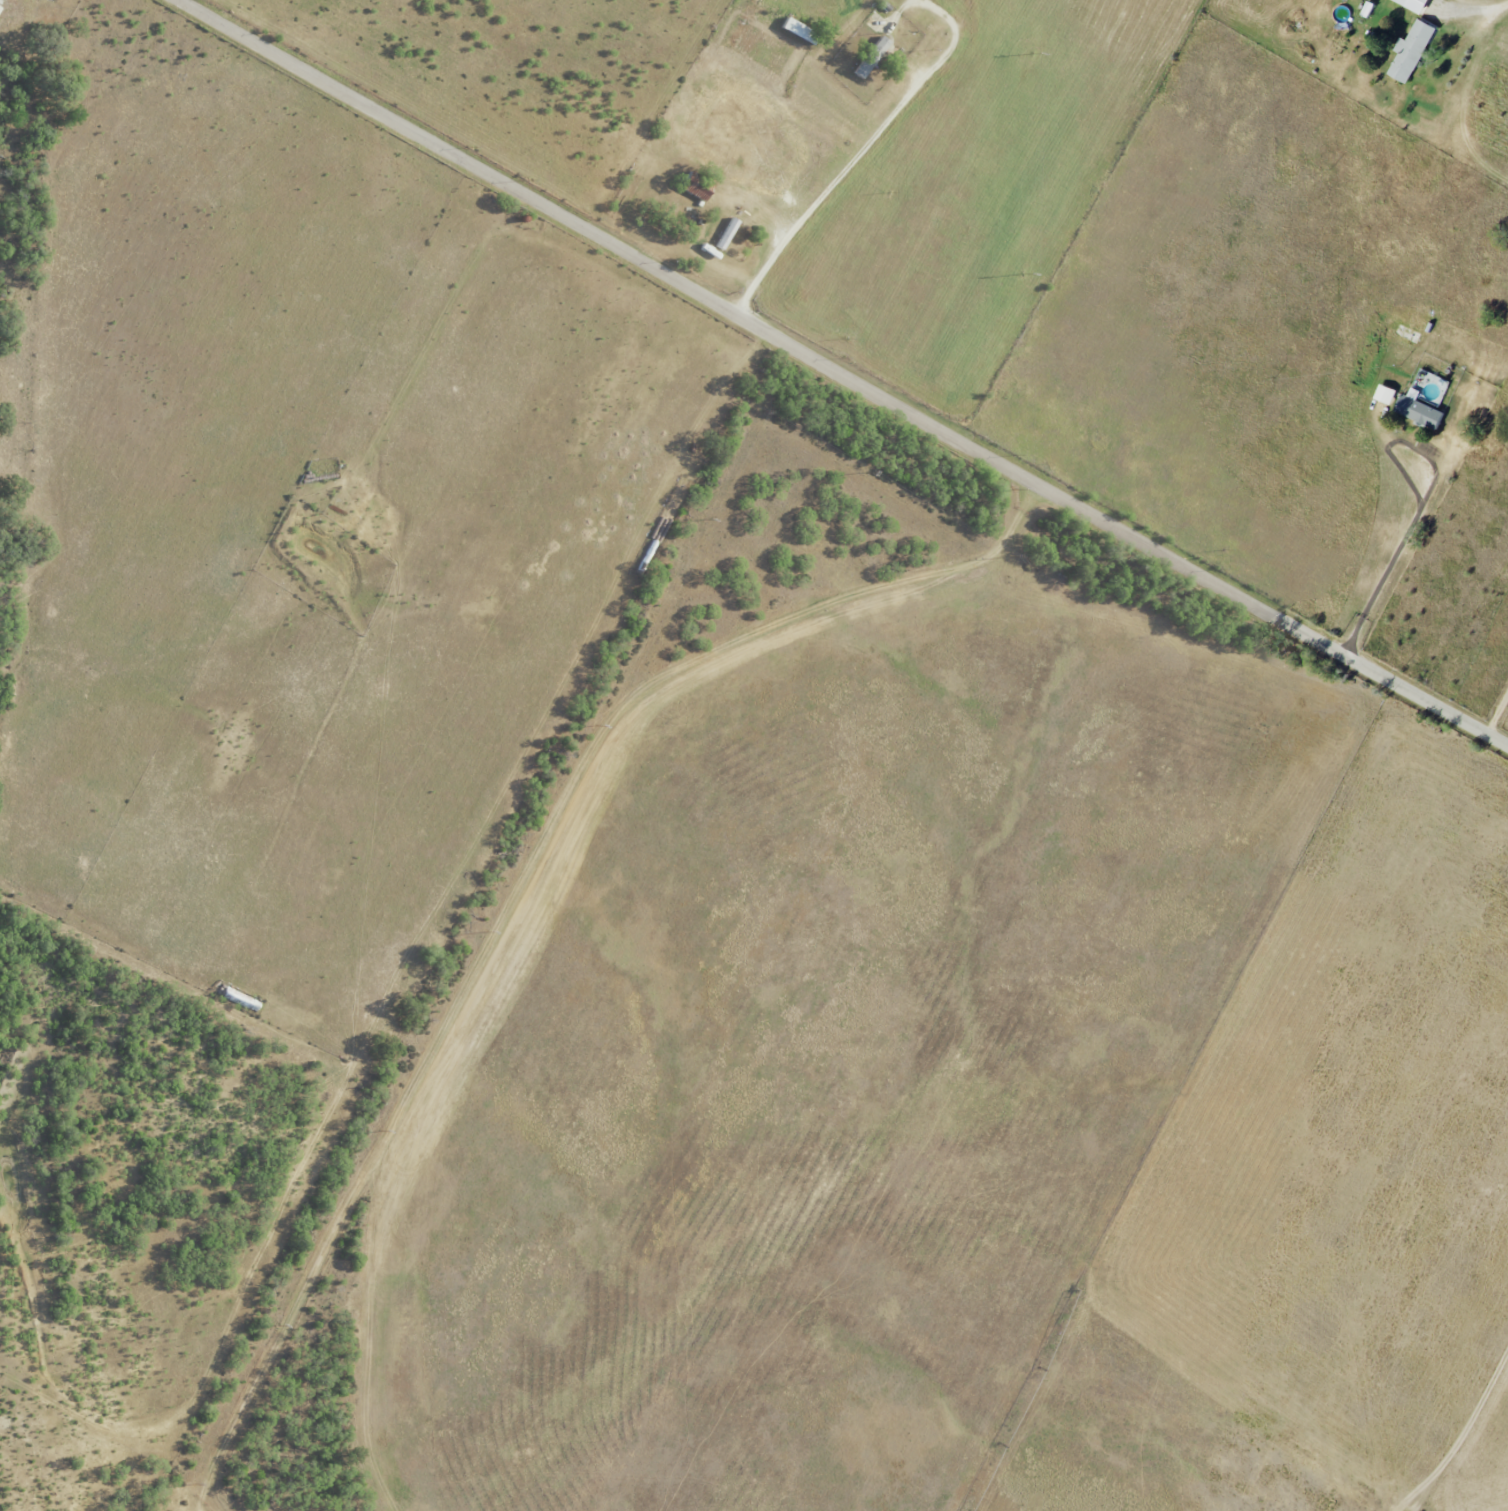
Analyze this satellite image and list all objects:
building: (1413, 4)
building: (1367, 9)
building: (1410, 51)
power tower: (1035, 55)
building: (870, 56)
road: (1462, 93)
road: (841, 176)
building: (726, 233)
power tower: (1025, 276)
road: (843, 373)
building: (1385, 394)
building: (1417, 409)
power tower: (763, 410)
power tower: (868, 474)
power tower: (1015, 490)
power tower: (708, 520)
road: (1414, 524)
power tower: (1012, 557)
road: (1497, 712)
power tower: (597, 727)
power tower: (488, 934)
power tower: (383, 1133)
power tower: (279, 1327)
power tower: (195, 1487)

